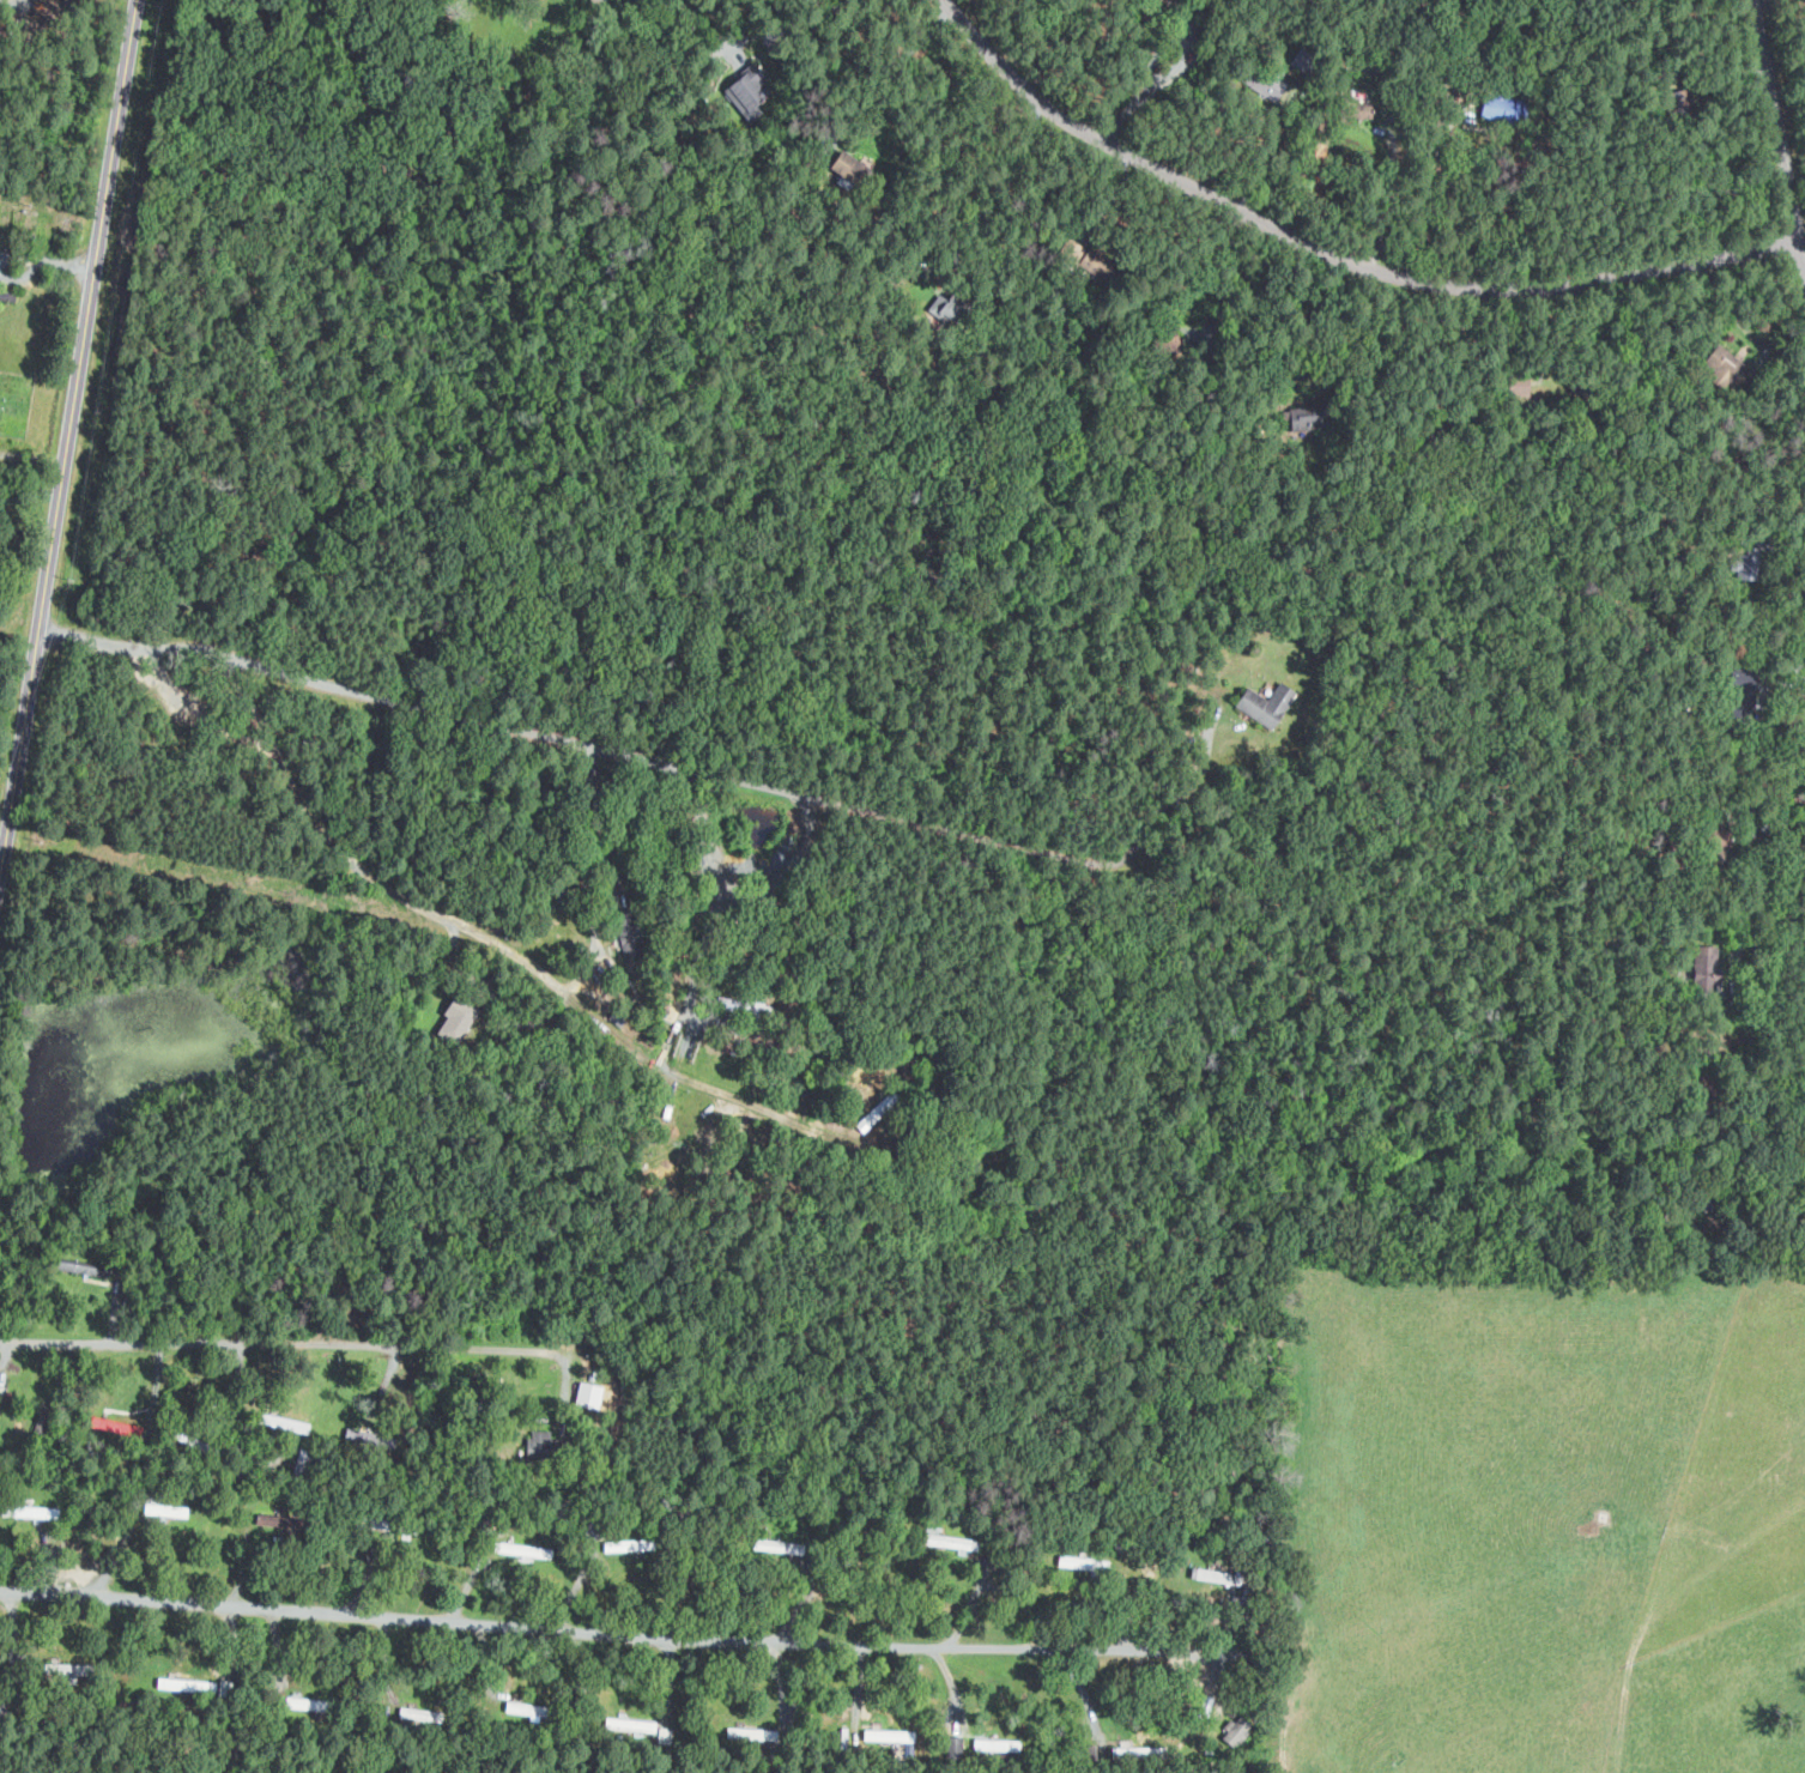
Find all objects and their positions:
road: (868, 13)
road: (1788, 85)
building: (750, 87)
road: (1153, 89)
road: (986, 131)
building: (850, 165)
road: (1427, 195)
road: (1340, 253)
road: (48, 261)
building: (945, 308)
road: (72, 425)
building: (1270, 703)
road: (1176, 789)
road: (793, 793)
road: (596, 812)
road: (364, 863)
road: (714, 921)
building: (1703, 964)
building: (456, 1019)
building: (665, 1109)
road: (283, 1343)
road: (6, 1354)
building: (589, 1394)
building: (544, 1441)
building: (159, 1509)
building: (521, 1549)
building: (1084, 1562)
road: (573, 1633)
building: (69, 1668)
road: (782, 1678)
road: (1085, 1694)
building: (297, 1702)
building: (420, 1714)
building: (631, 1724)
building: (752, 1732)
building: (890, 1735)
building: (998, 1744)

